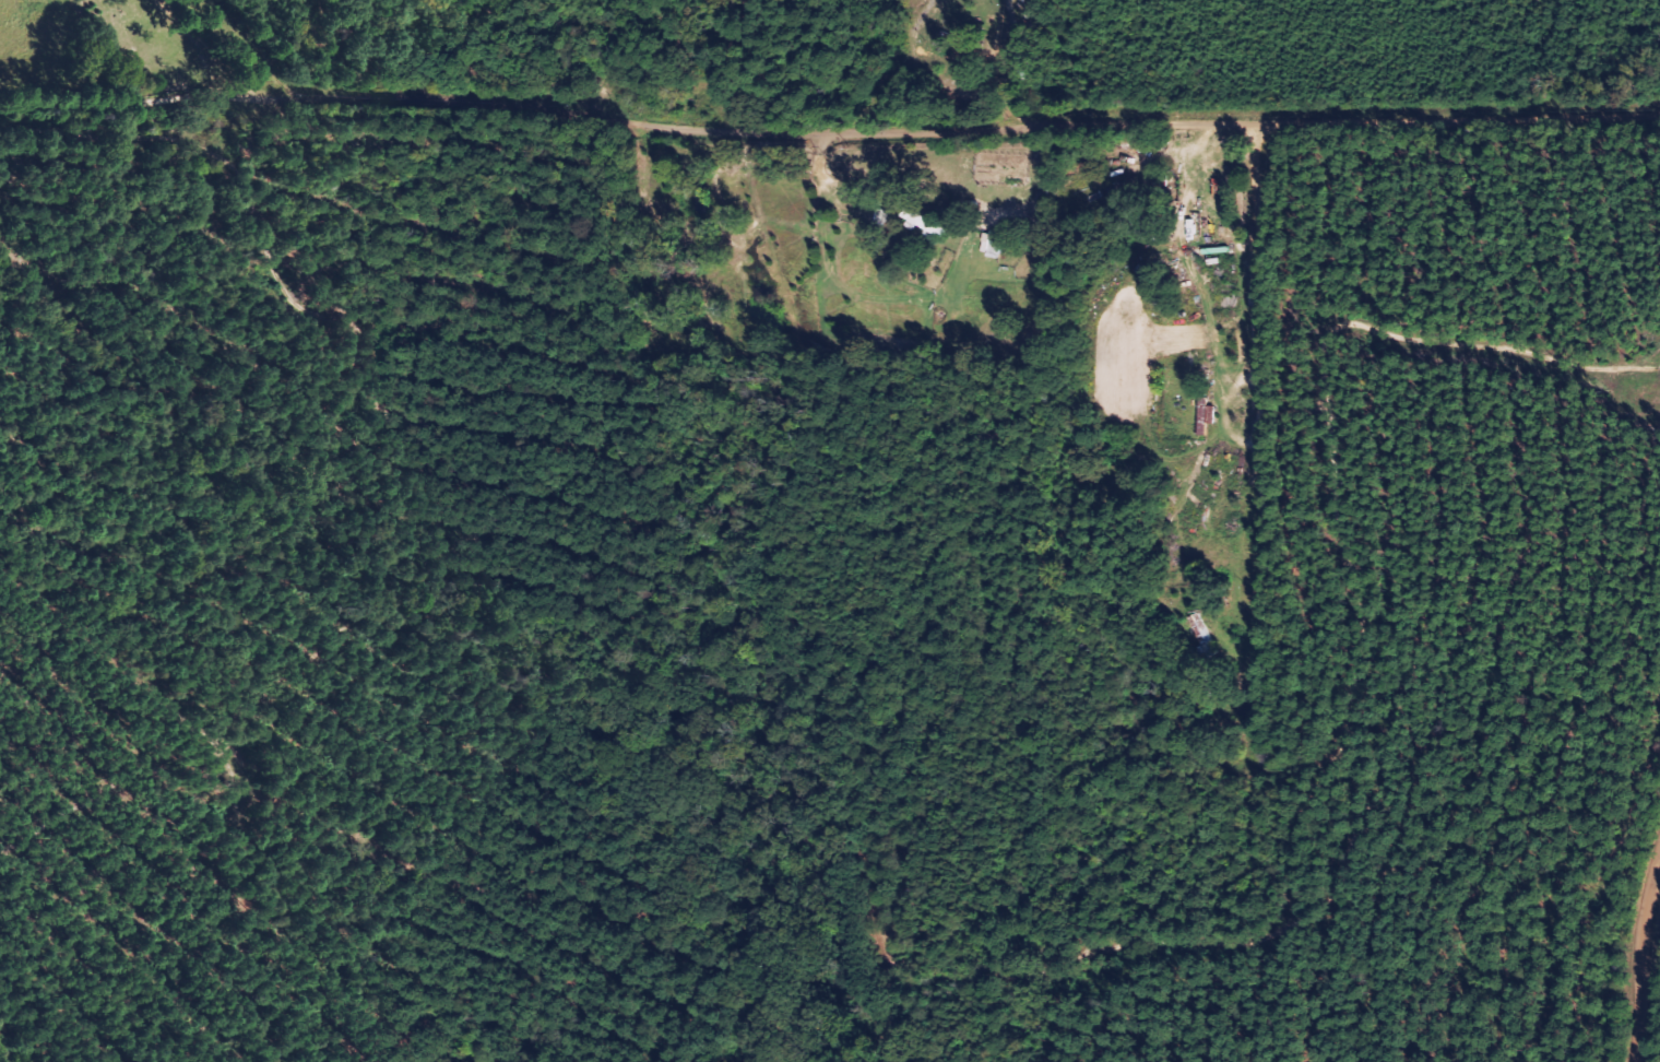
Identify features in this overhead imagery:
road: (829, 118)
building: (996, 245)
road: (1104, 461)
road: (1645, 918)

